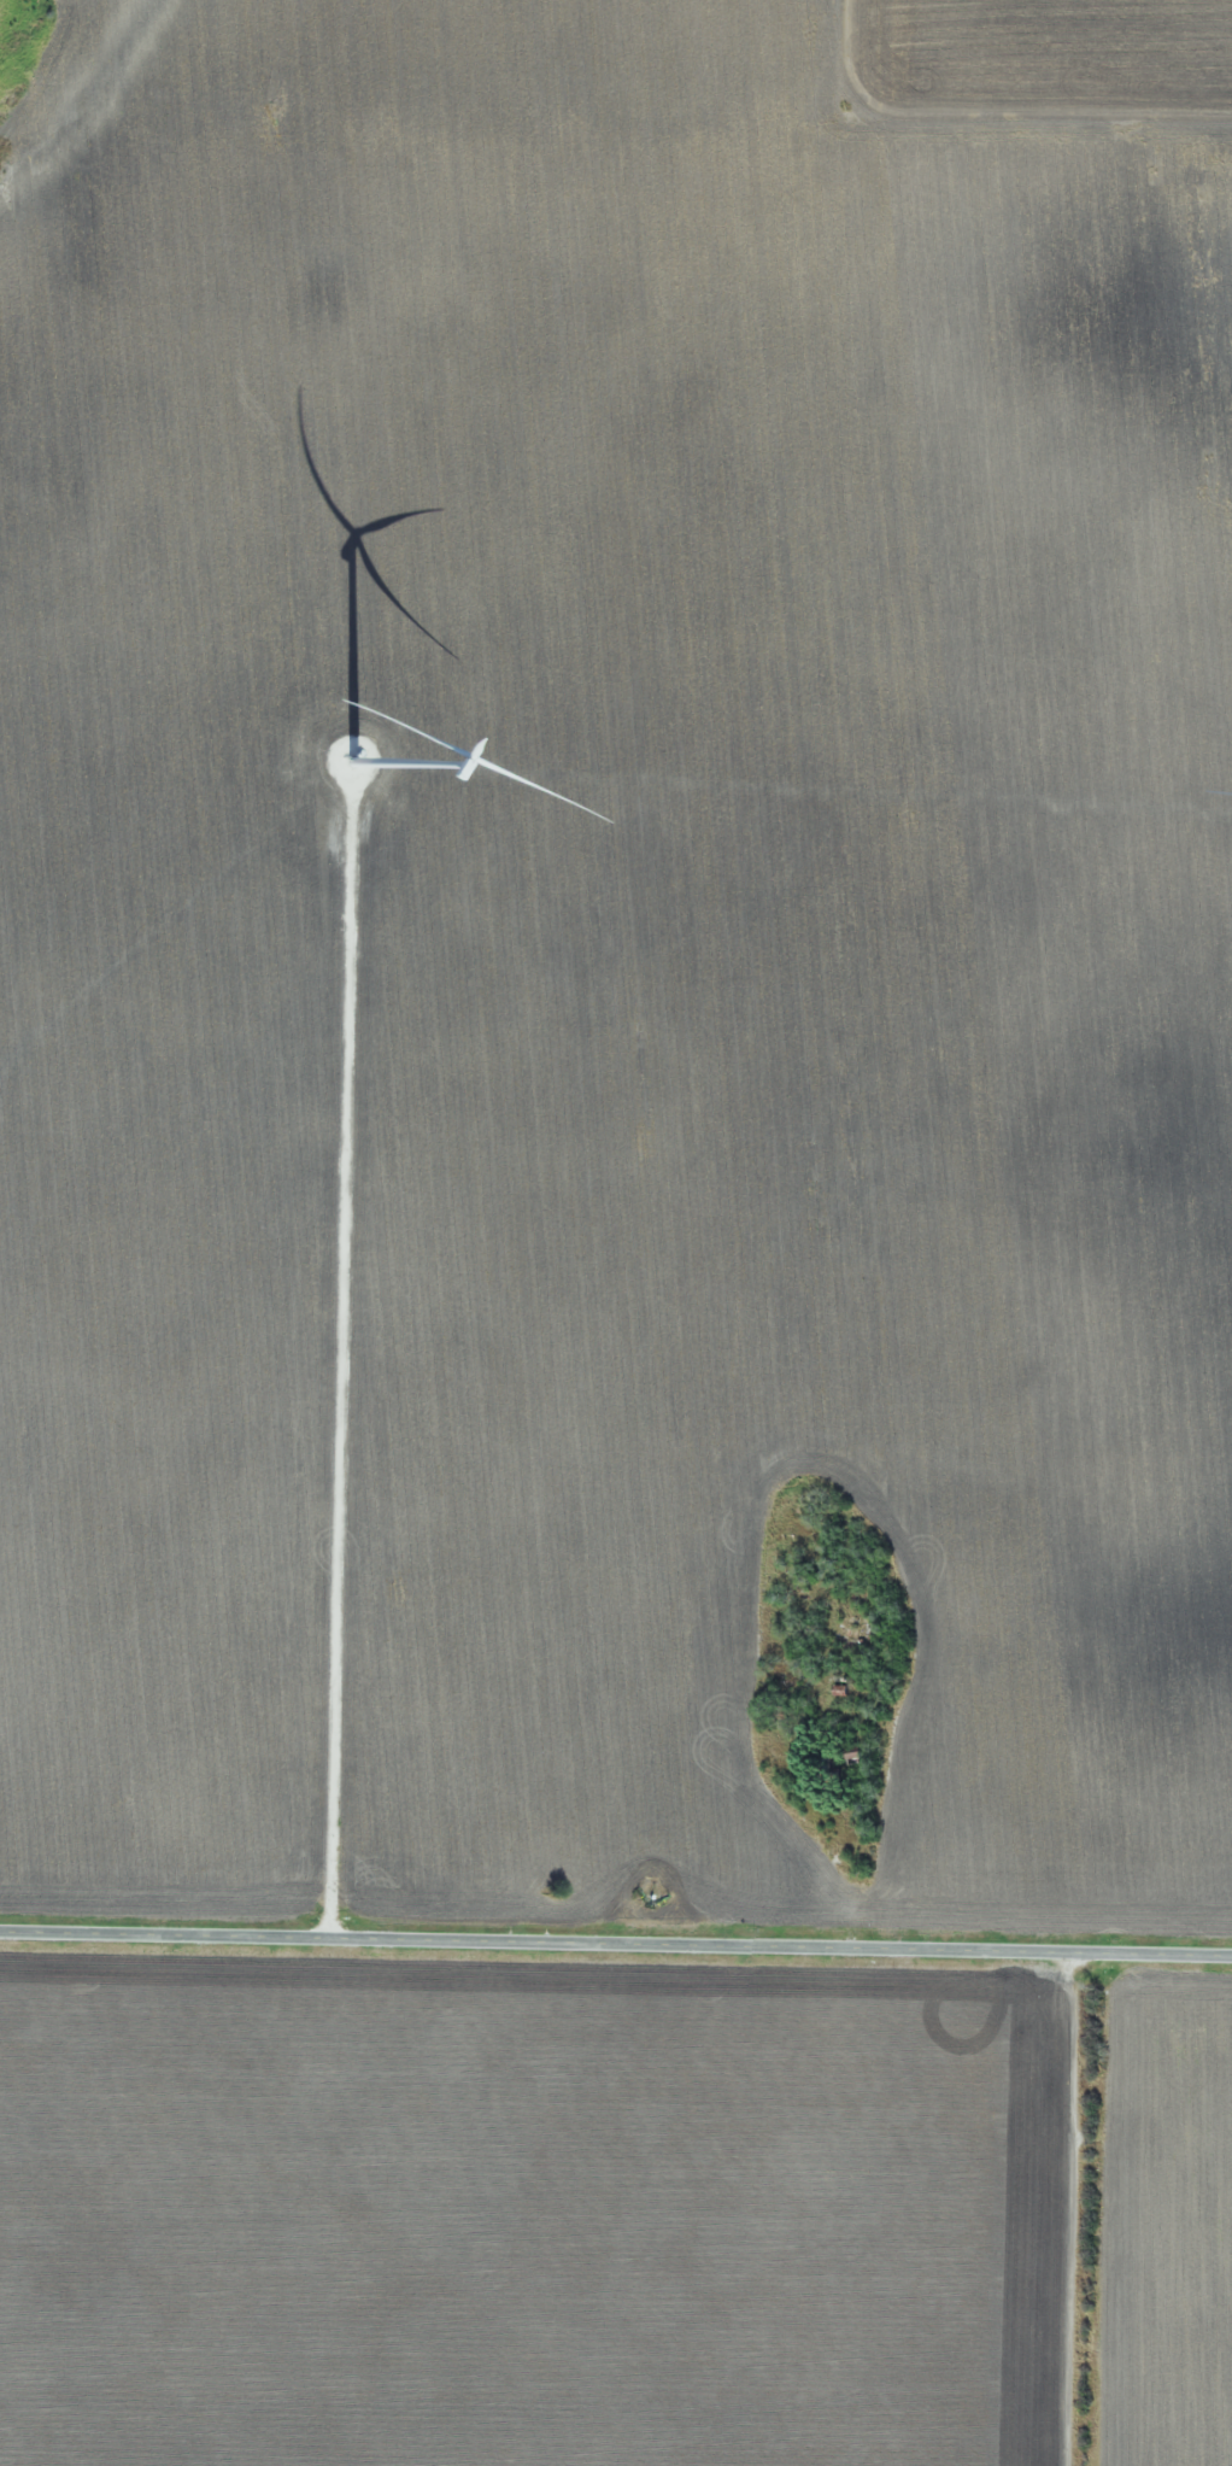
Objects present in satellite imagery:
wind turbine: (351, 767)
road: (615, 1947)

